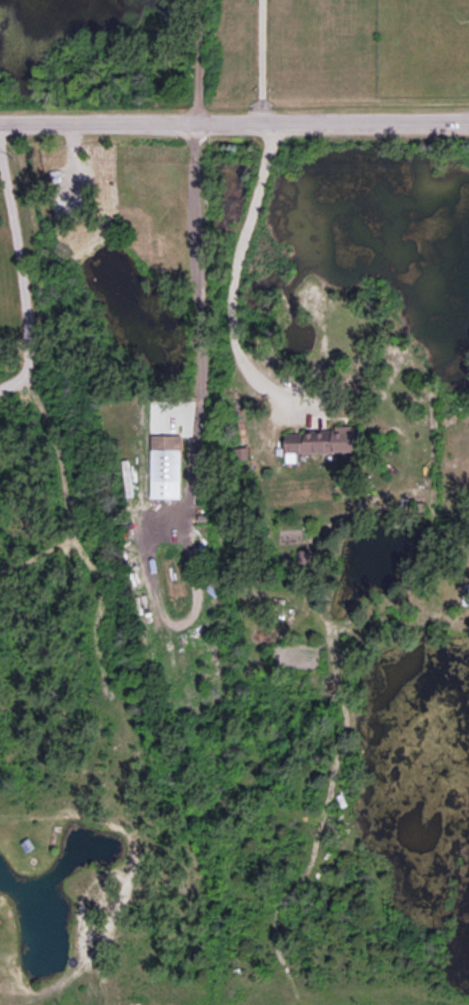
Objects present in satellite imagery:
road: (199, 60)
road: (264, 61)
road: (234, 122)
road: (196, 269)
road: (20, 270)
road: (234, 282)
building: (324, 441)
building: (165, 467)

